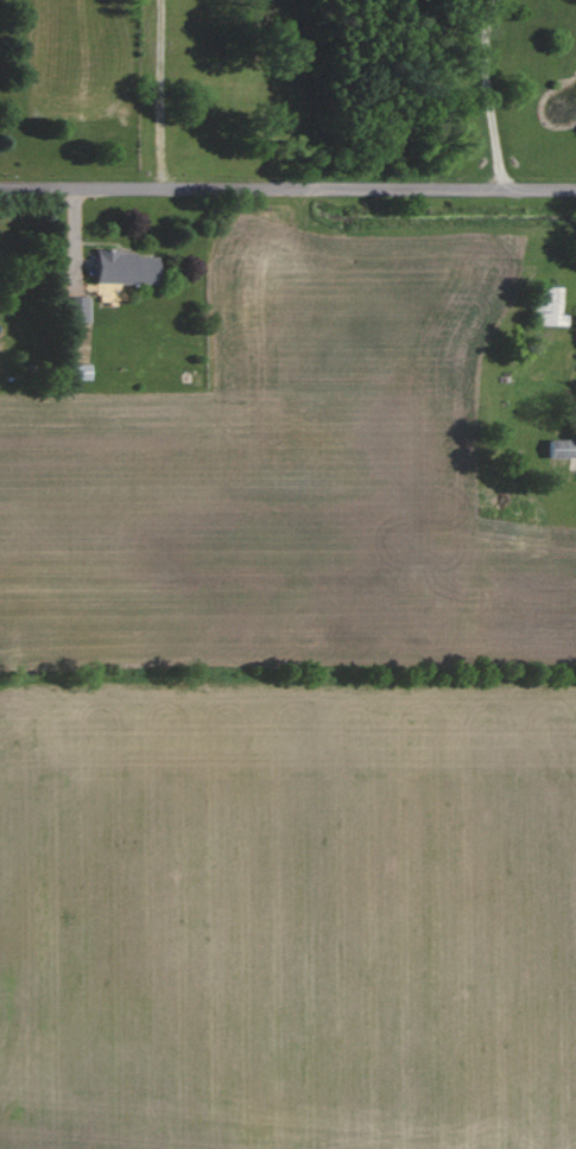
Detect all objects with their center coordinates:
road: (158, 94)
road: (487, 94)
road: (287, 189)
building: (122, 268)
building: (549, 307)
building: (75, 310)
building: (561, 449)

